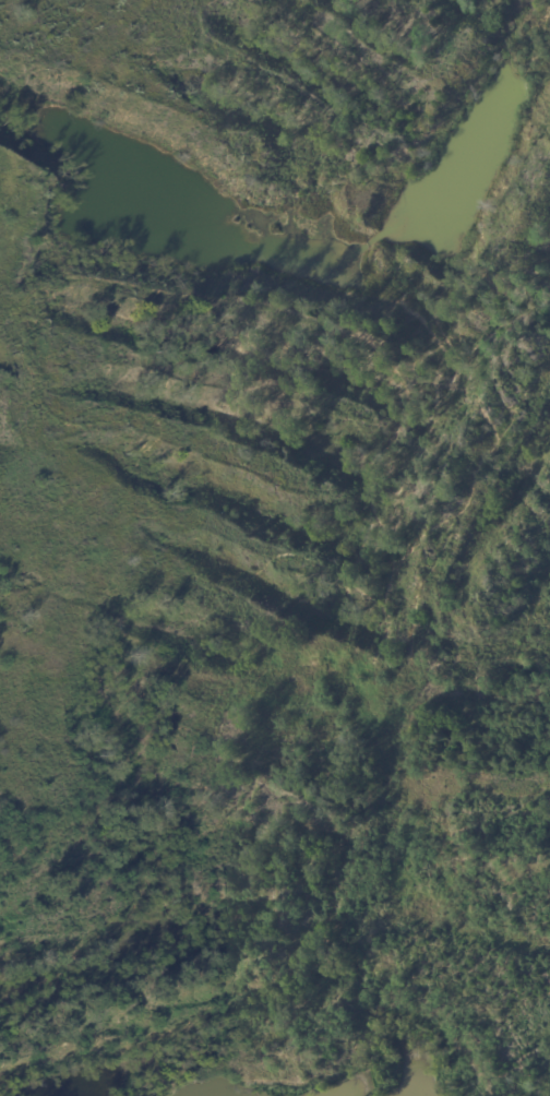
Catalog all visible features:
road: (275, 894)
road: (275, 921)

